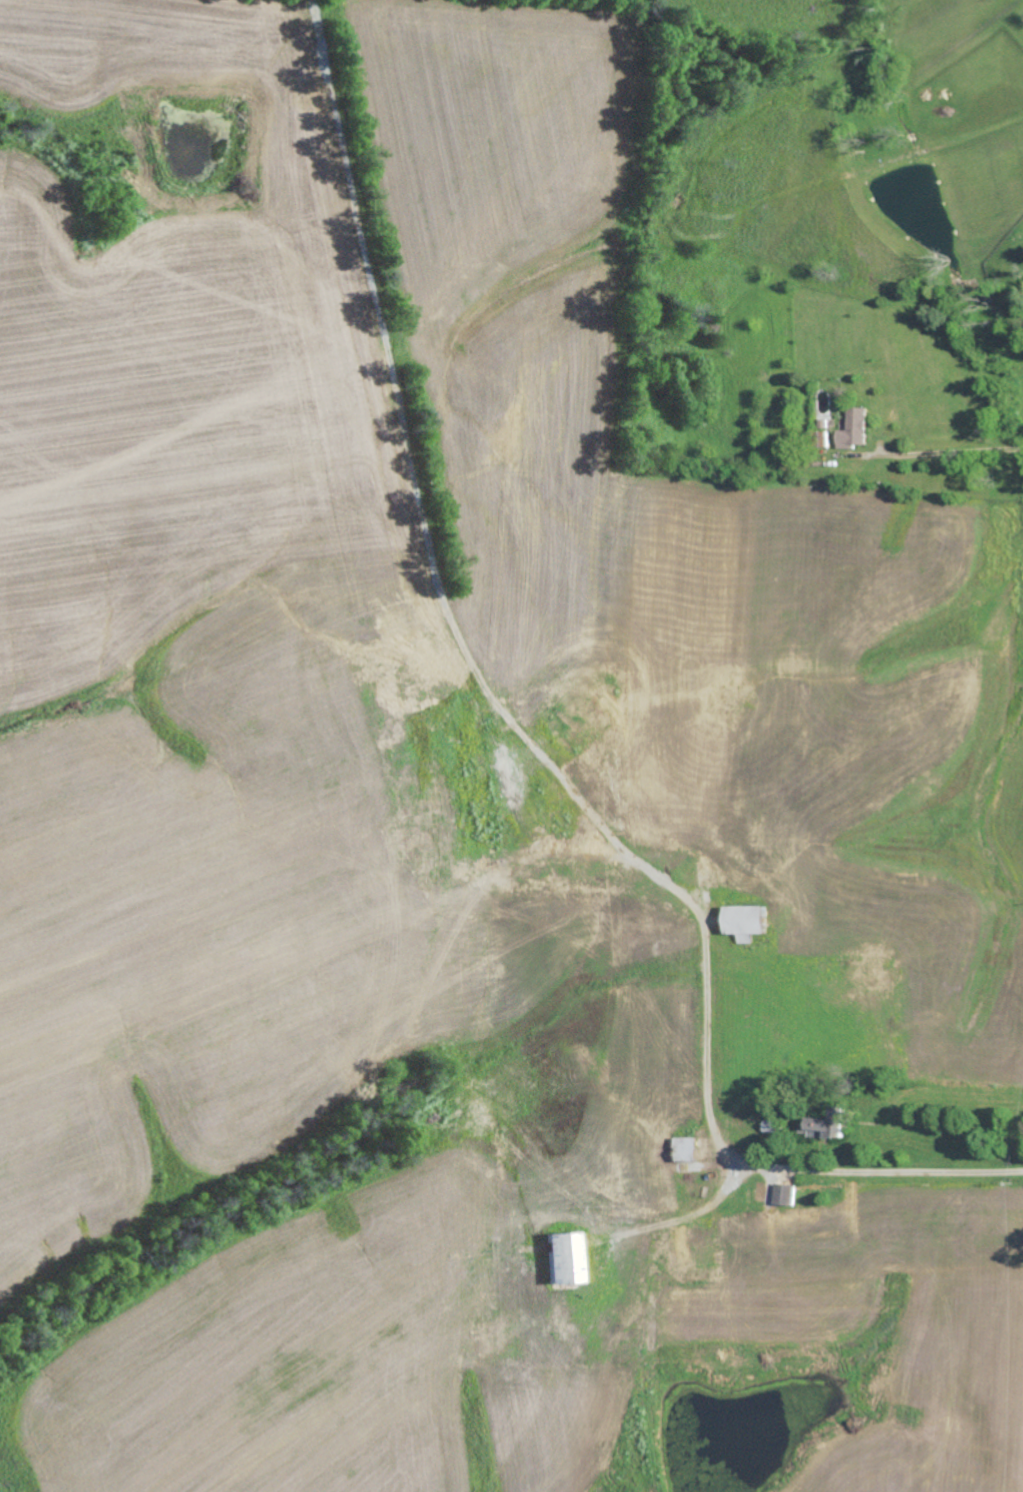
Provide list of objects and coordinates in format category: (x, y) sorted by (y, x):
building: (853, 428)
building: (823, 438)
road: (947, 452)
building: (740, 922)
building: (822, 1123)
road: (752, 1165)
building: (784, 1193)
building: (559, 1256)

